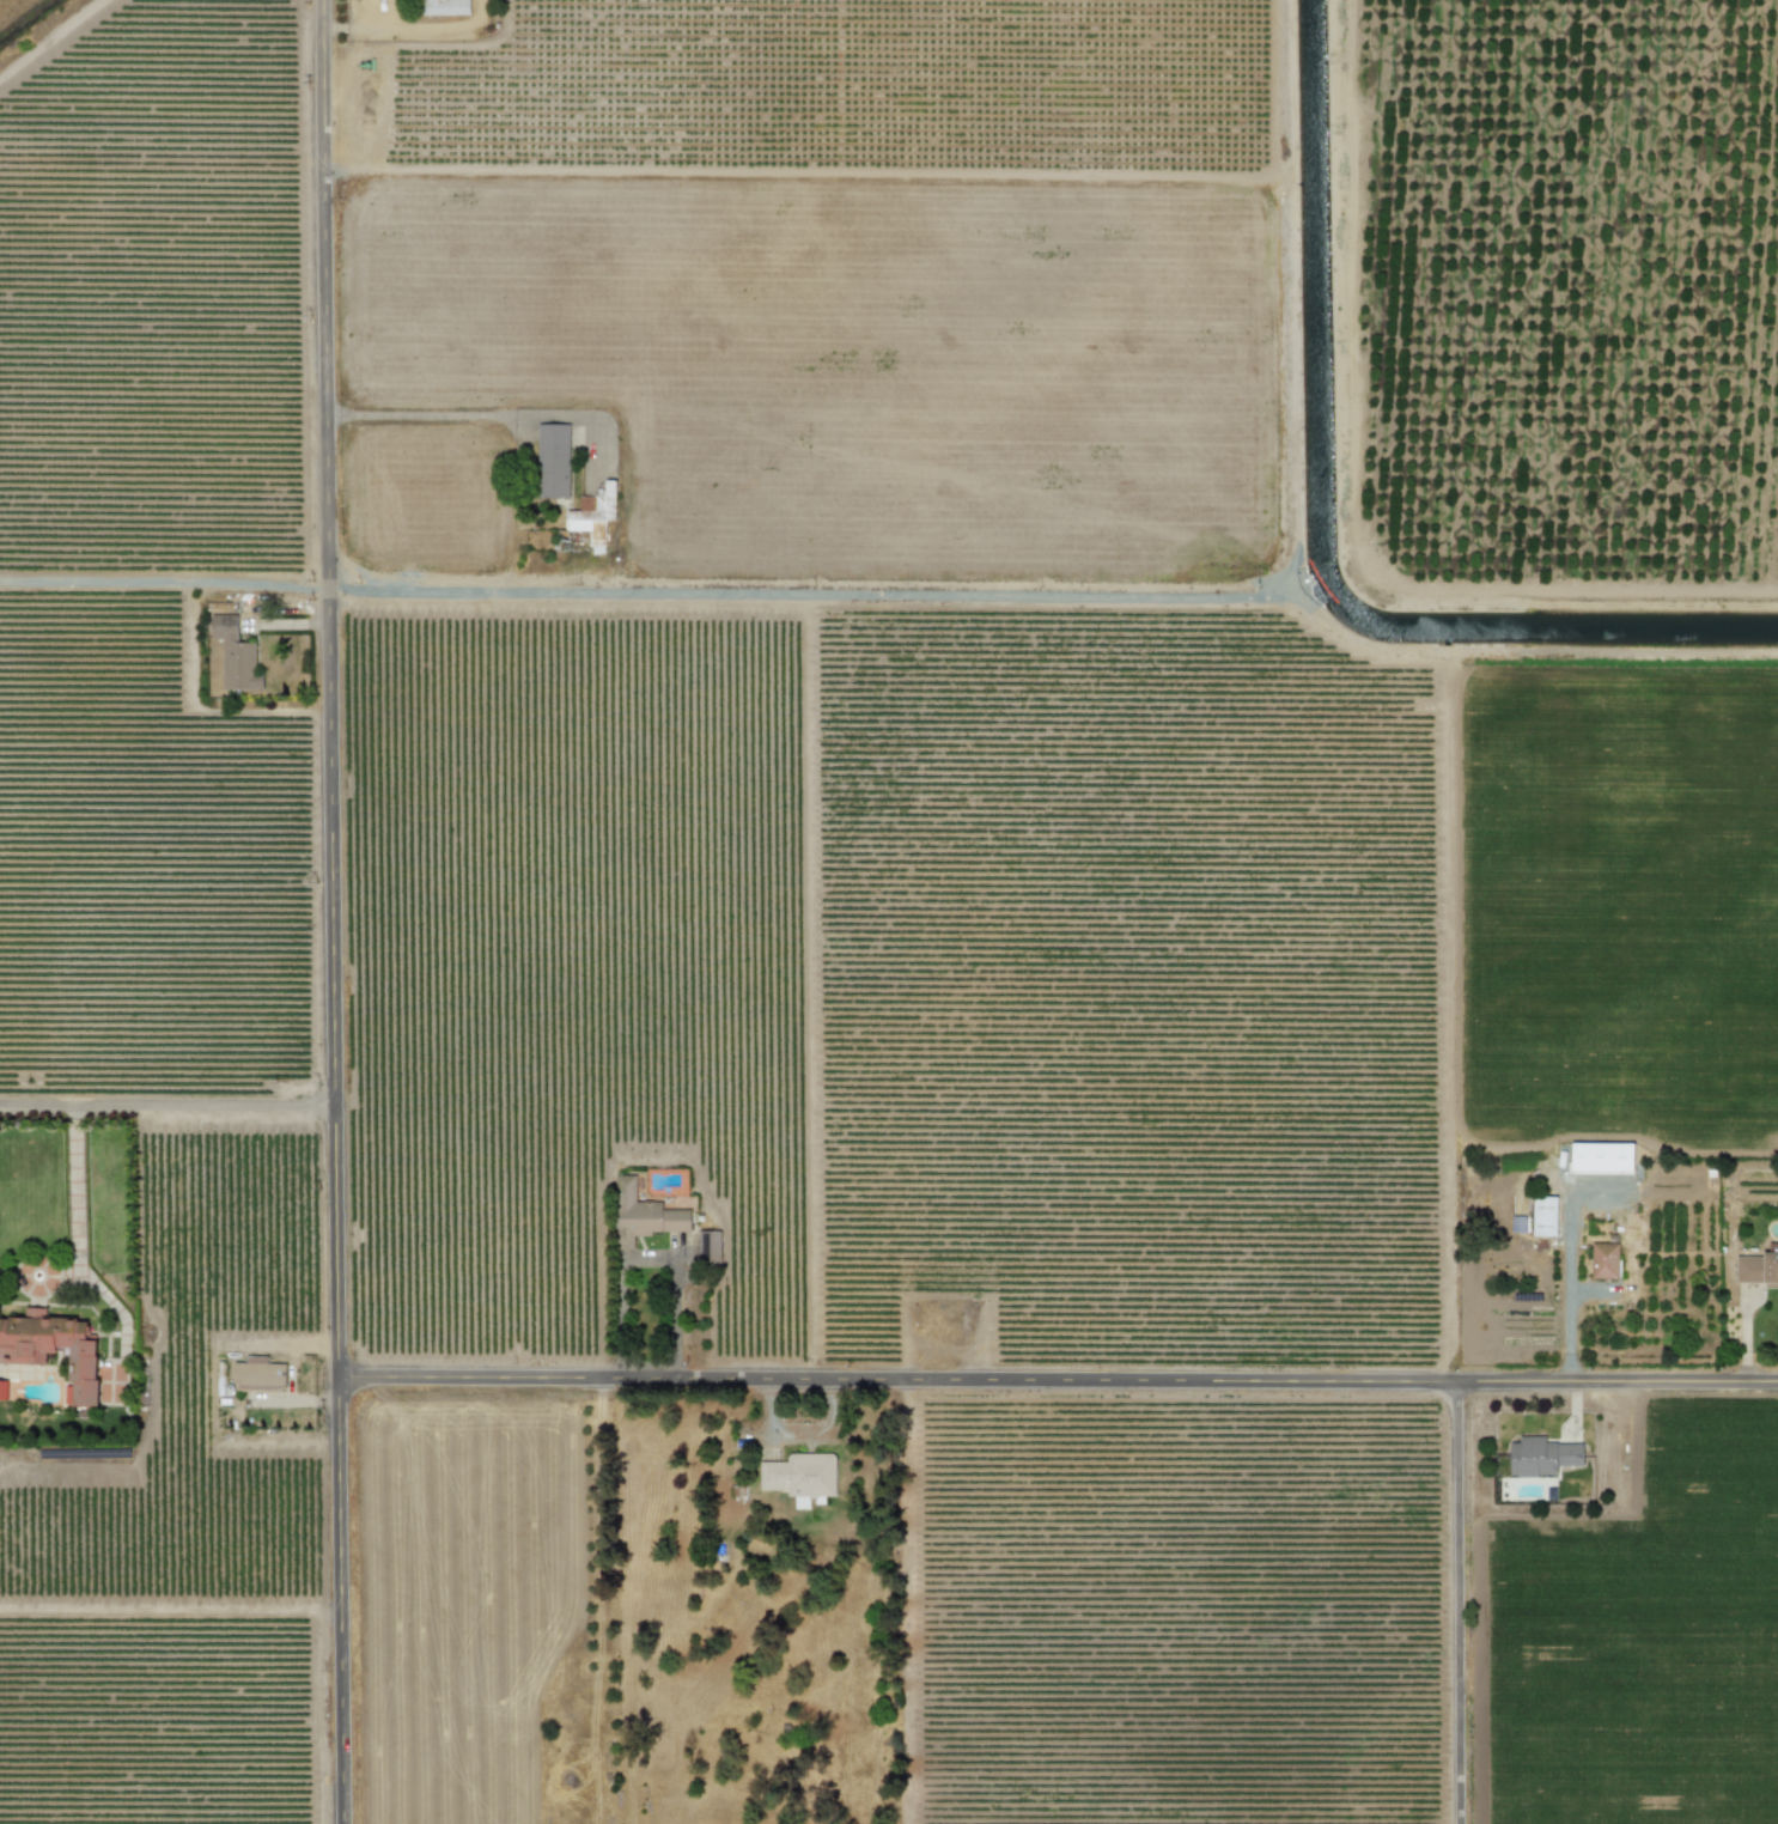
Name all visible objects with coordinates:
building: (445, 7)
road: (469, 415)
building: (552, 461)
building: (593, 515)
building: (235, 655)
road: (333, 912)
road: (168, 1105)
building: (1601, 1157)
road: (73, 1175)
building: (643, 1215)
building: (1543, 1216)
building: (1517, 1223)
building: (707, 1248)
building: (1603, 1260)
road: (647, 1261)
building: (1758, 1267)
road: (1567, 1271)
building: (53, 1349)
building: (258, 1374)
road: (1058, 1382)
building: (2, 1390)
building: (1541, 1457)
building: (800, 1477)
road: (1460, 1604)

